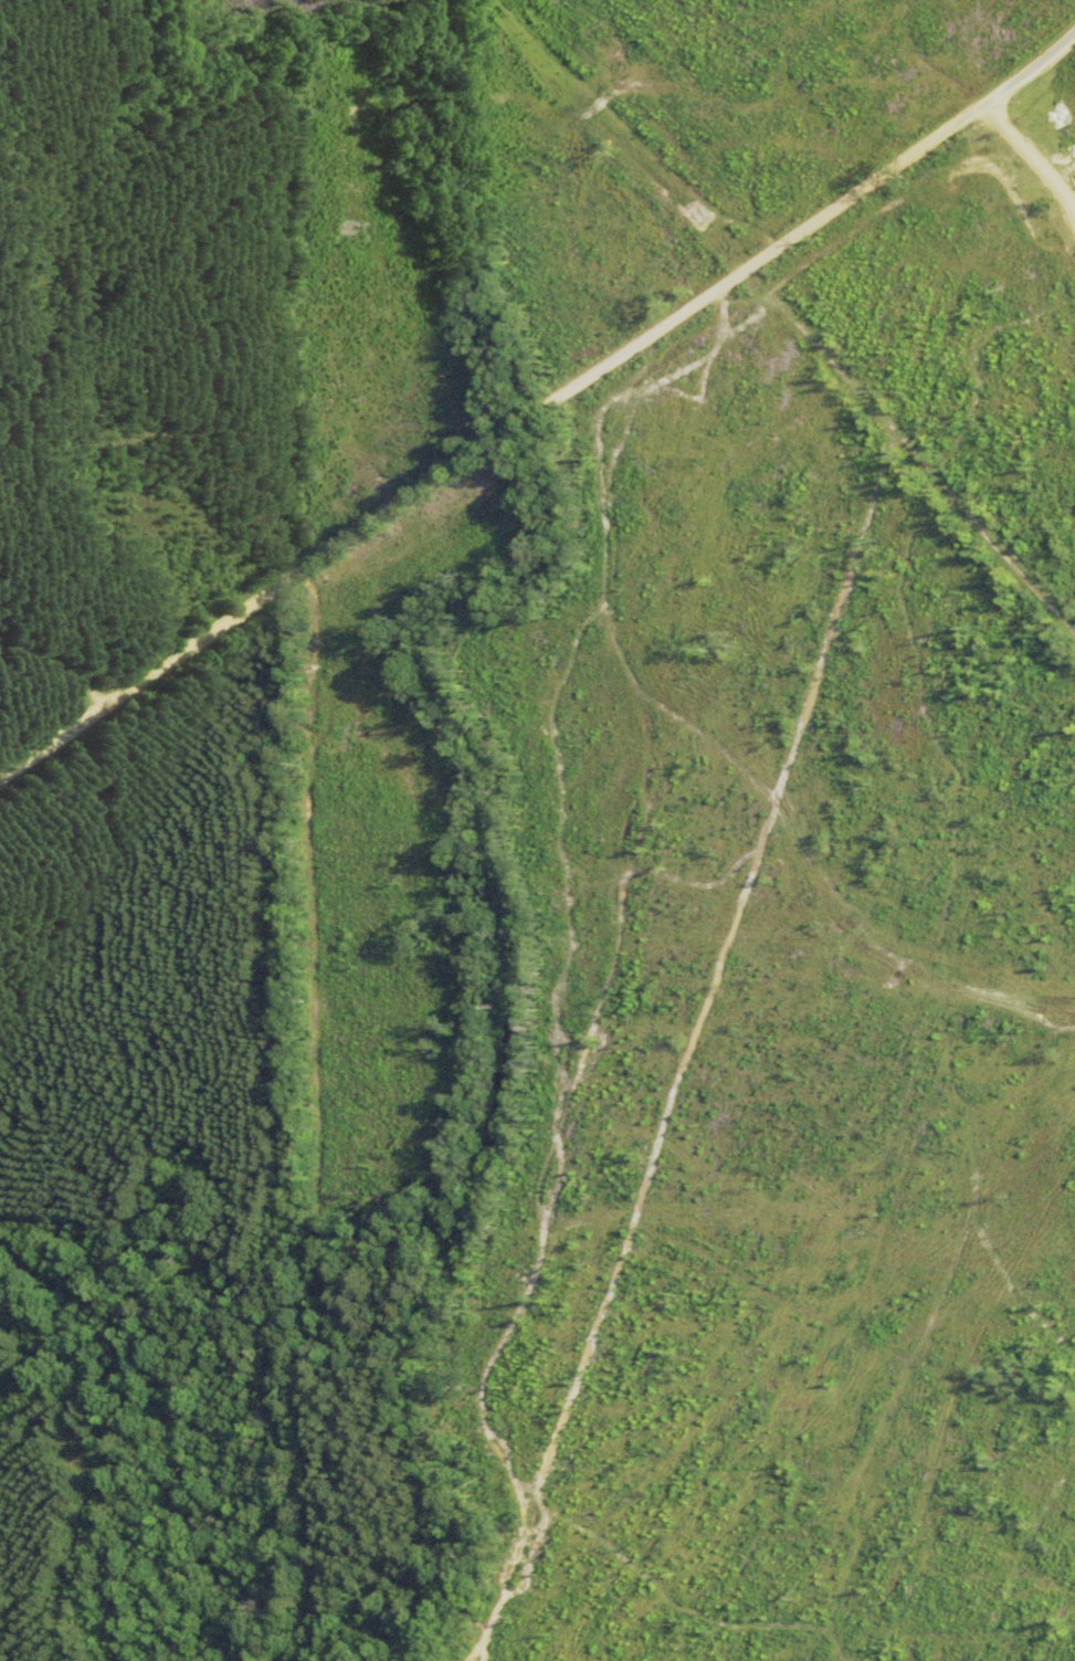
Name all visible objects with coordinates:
road: (1032, 160)
road: (538, 404)

